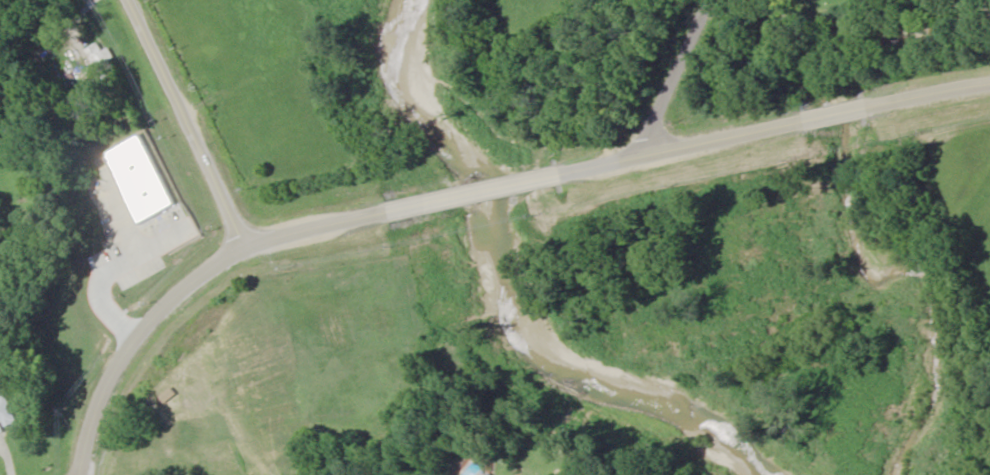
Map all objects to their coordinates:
building: (99, 60)
road: (709, 61)
road: (185, 119)
road: (467, 181)
building: (141, 238)
building: (7, 413)
building: (495, 474)

